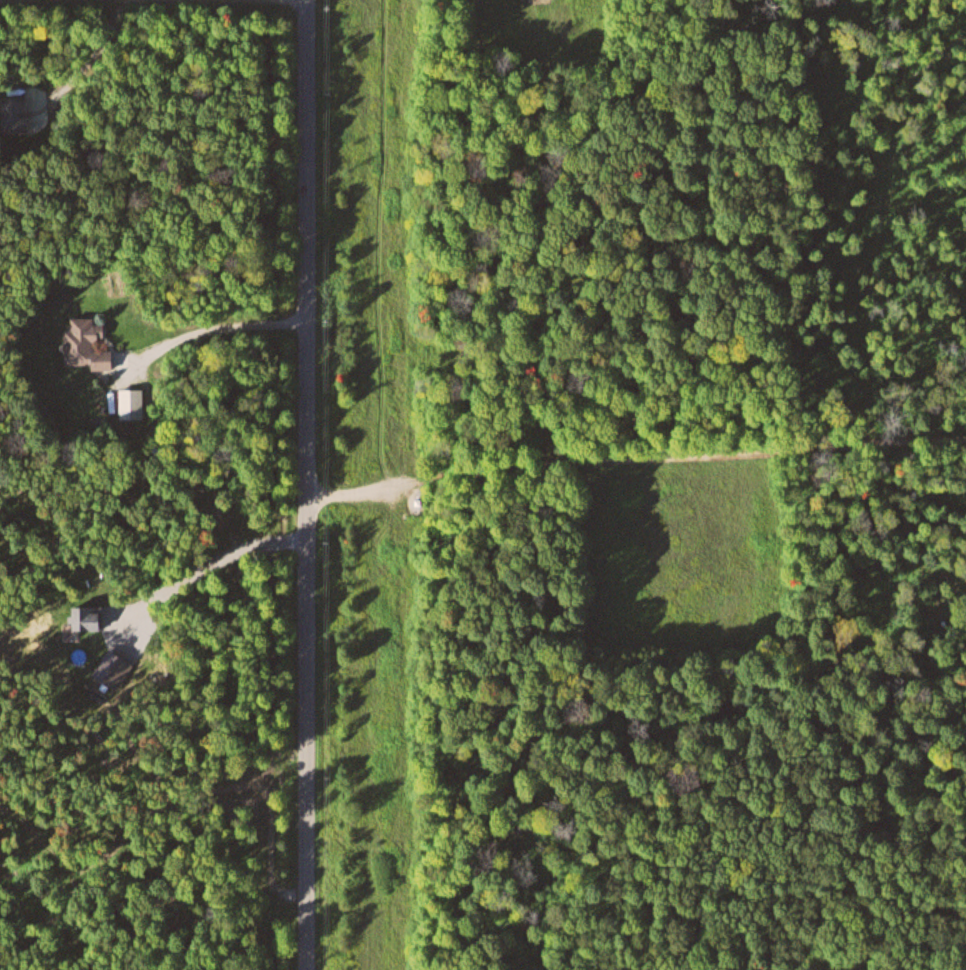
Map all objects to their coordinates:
building: (12, 113)
building: (80, 344)
road: (634, 455)
road: (308, 485)
building: (83, 618)

